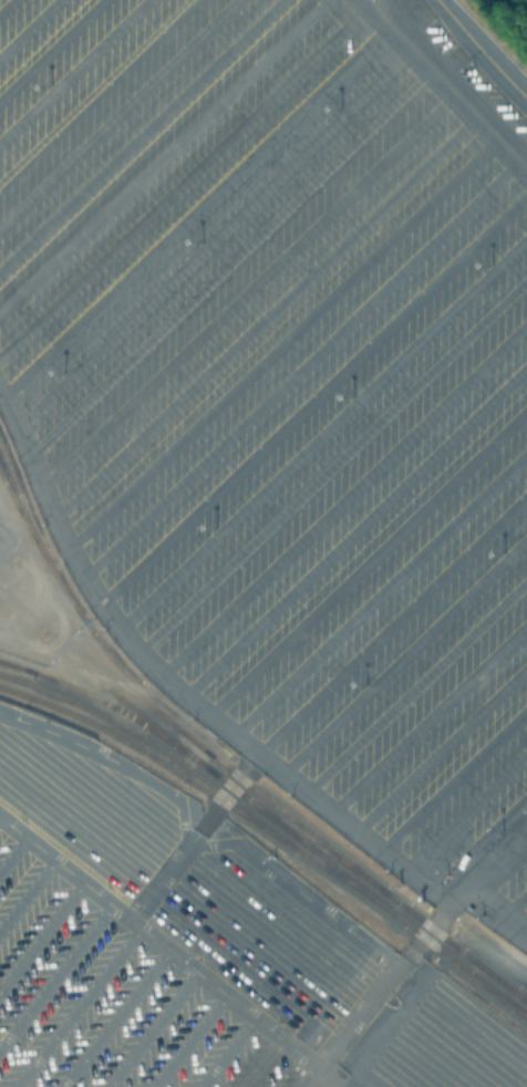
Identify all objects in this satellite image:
road: (4, 4)
road: (28, 27)
road: (49, 46)
road: (484, 46)
road: (72, 69)
road: (444, 75)
road: (96, 91)
road: (117, 111)
road: (139, 134)
road: (163, 153)
road: (182, 182)
road: (193, 209)
road: (210, 231)
road: (230, 258)
road: (247, 282)
road: (266, 312)
road: (283, 339)
road: (302, 363)
road: (312, 392)
road: (322, 427)
road: (332, 460)
road: (344, 495)
railway: (20, 504)
road: (356, 525)
road: (369, 559)
road: (381, 591)
road: (394, 622)
railway: (86, 628)
road: (405, 651)
railway: (14, 666)
railway: (104, 673)
road: (416, 683)
railway: (114, 706)
road: (210, 711)
road: (430, 716)
road: (441, 746)
railway: (154, 747)
railway: (200, 764)
road: (454, 778)
railway: (207, 794)
road: (223, 794)
road: (193, 841)
road: (13, 851)
railway: (328, 855)
railway: (368, 880)
road: (27, 892)
road: (104, 898)
road: (515, 899)
road: (41, 933)
road: (410, 953)
railway: (464, 973)
road: (55, 974)
railway: (502, 983)
road: (227, 993)
railway: (496, 995)
road: (76, 1006)
road: (114, 1017)
road: (151, 1028)
road: (190, 1041)
road: (227, 1050)
road: (259, 1060)

